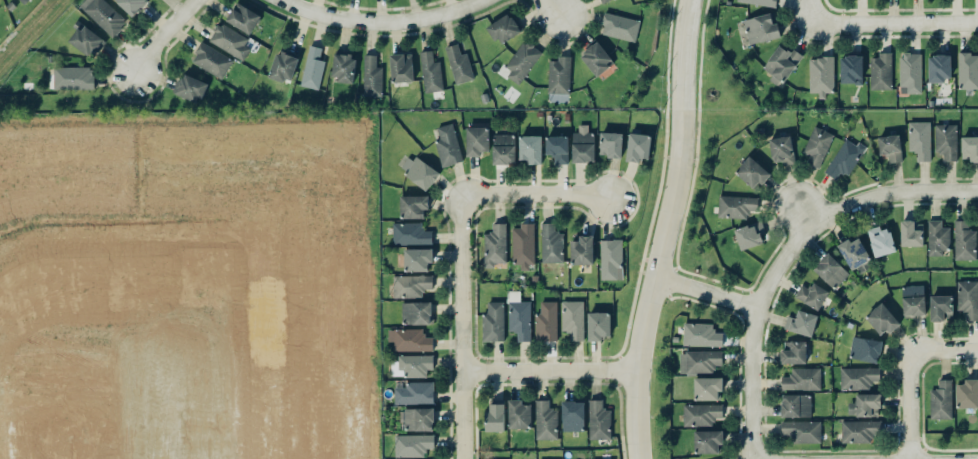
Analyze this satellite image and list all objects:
building: (23, 1)
building: (604, 1)
building: (759, 2)
building: (132, 5)
road: (563, 11)
road: (811, 11)
building: (103, 15)
building: (243, 18)
road: (384, 20)
road: (899, 20)
building: (620, 27)
building: (504, 28)
building: (761, 28)
road: (169, 35)
building: (87, 40)
building: (229, 41)
building: (596, 58)
building: (211, 60)
building: (522, 61)
building: (780, 62)
building: (459, 64)
building: (283, 66)
building: (343, 67)
building: (401, 67)
building: (312, 68)
building: (939, 68)
building: (851, 69)
building: (881, 71)
building: (967, 71)
building: (431, 72)
building: (909, 73)
building: (559, 75)
building: (821, 75)
building: (372, 76)
building: (73, 78)
building: (191, 88)
building: (919, 139)
building: (477, 140)
building: (946, 141)
building: (610, 144)
building: (448, 145)
building: (583, 145)
building: (816, 145)
building: (638, 146)
building: (558, 148)
building: (890, 148)
building: (970, 148)
building: (504, 149)
building: (531, 149)
building: (782, 150)
building: (845, 158)
building: (418, 171)
building: (752, 172)
road: (893, 191)
road: (536, 193)
building: (414, 206)
building: (736, 206)
road: (805, 210)
road: (665, 230)
building: (410, 234)
building: (910, 234)
building: (751, 235)
building: (938, 237)
building: (881, 241)
building: (964, 241)
building: (551, 244)
building: (495, 245)
building: (523, 245)
building: (582, 250)
building: (856, 254)
building: (610, 258)
building: (417, 259)
building: (830, 270)
building: (411, 285)
road: (708, 290)
building: (812, 295)
building: (968, 299)
building: (914, 305)
building: (941, 307)
building: (416, 312)
building: (519, 316)
building: (572, 319)
building: (882, 319)
building: (493, 322)
building: (546, 322)
building: (801, 323)
building: (598, 325)
road: (464, 331)
road: (755, 332)
building: (701, 335)
building: (410, 340)
building: (865, 349)
building: (793, 352)
road: (947, 353)
building: (699, 362)
building: (414, 365)
road: (550, 371)
building: (858, 377)
building: (802, 379)
building: (707, 388)
building: (414, 393)
building: (967, 394)
building: (941, 400)
building: (796, 405)
building: (865, 405)
road: (914, 406)
building: (519, 414)
building: (701, 414)
building: (572, 415)
building: (495, 416)
building: (417, 419)
building: (545, 420)
building: (598, 420)
building: (800, 431)
building: (859, 431)
building: (707, 441)
building: (412, 445)
building: (721, 458)

